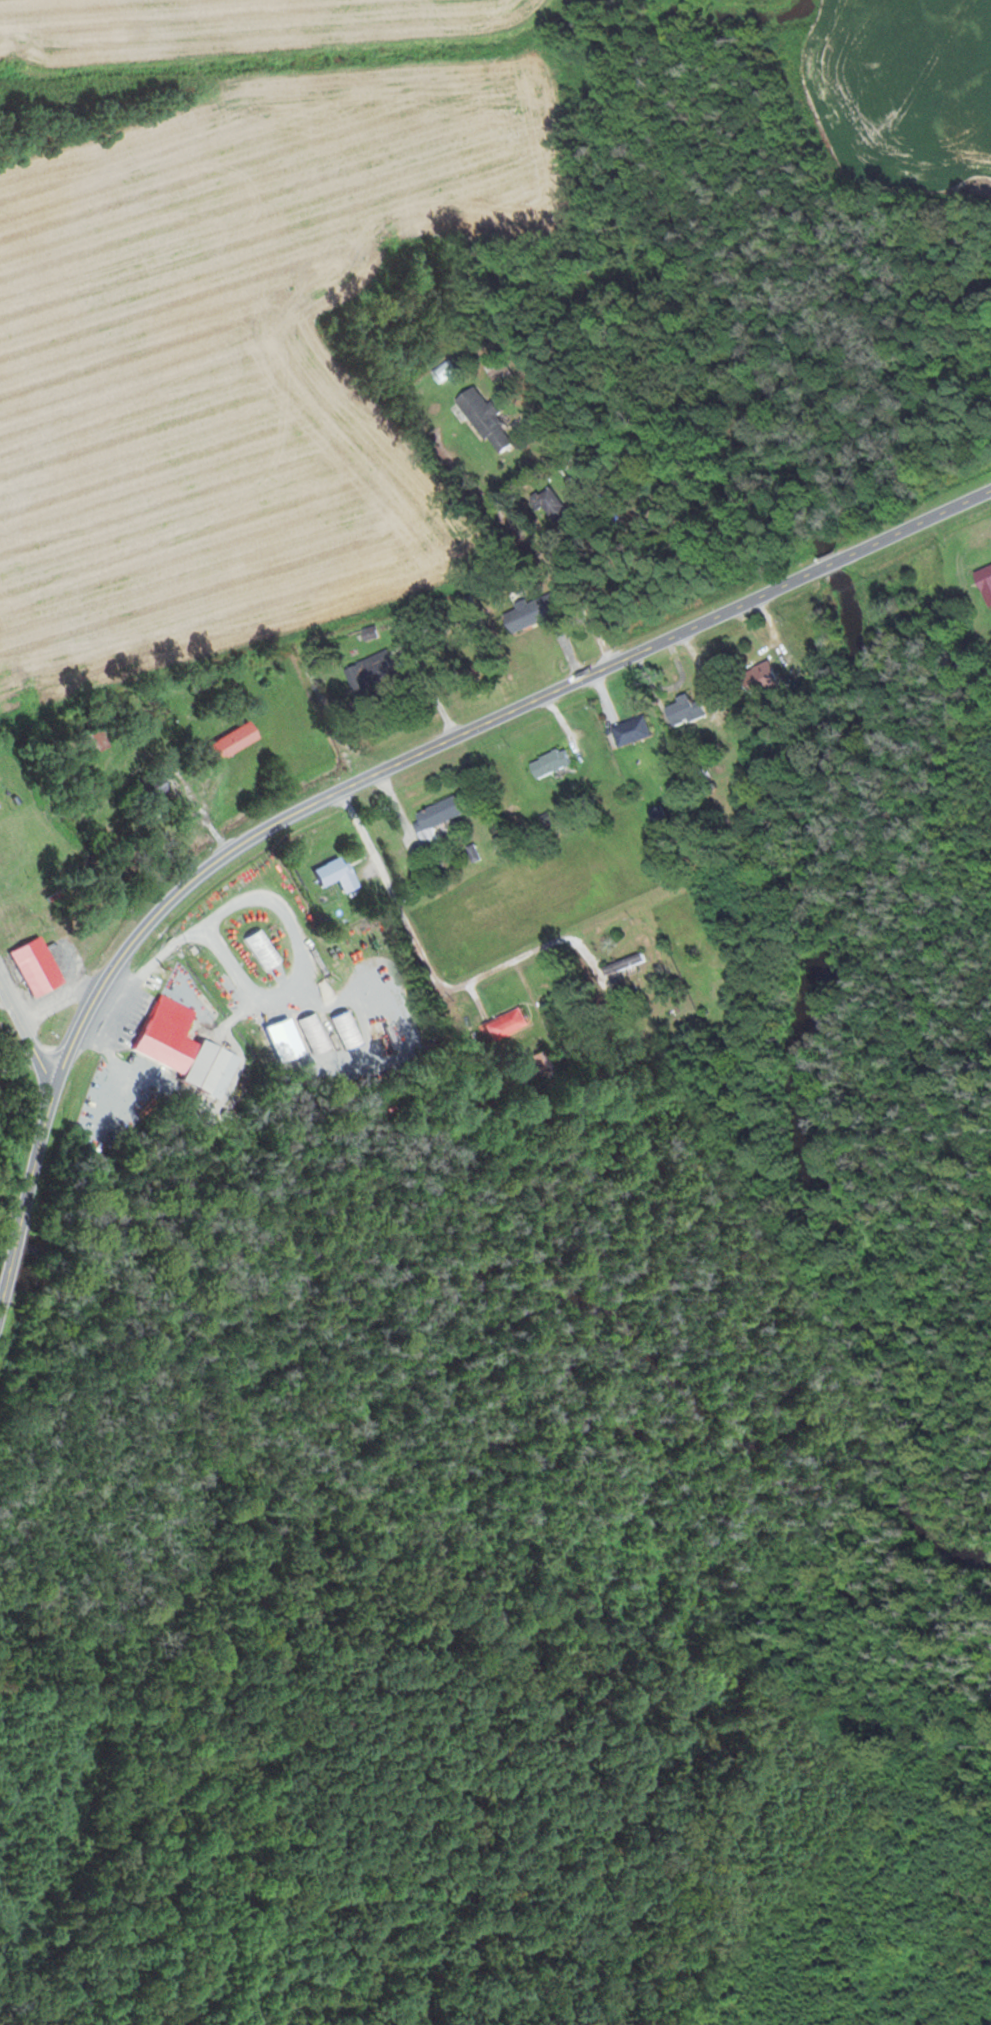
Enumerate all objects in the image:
building: (443, 371)
building: (482, 418)
building: (549, 507)
road: (525, 533)
building: (983, 583)
building: (531, 612)
building: (369, 632)
building: (371, 670)
building: (757, 677)
building: (680, 711)
road: (472, 730)
building: (230, 741)
building: (89, 743)
road: (685, 757)
building: (549, 763)
building: (155, 790)
building: (656, 814)
building: (434, 819)
building: (332, 874)
road: (600, 918)
road: (416, 938)
building: (688, 940)
building: (34, 966)
building: (622, 966)
building: (502, 1024)
road: (27, 1036)
building: (174, 1047)
building: (539, 1064)
road: (33, 1175)
road: (5, 1285)
park: (28, 2002)

